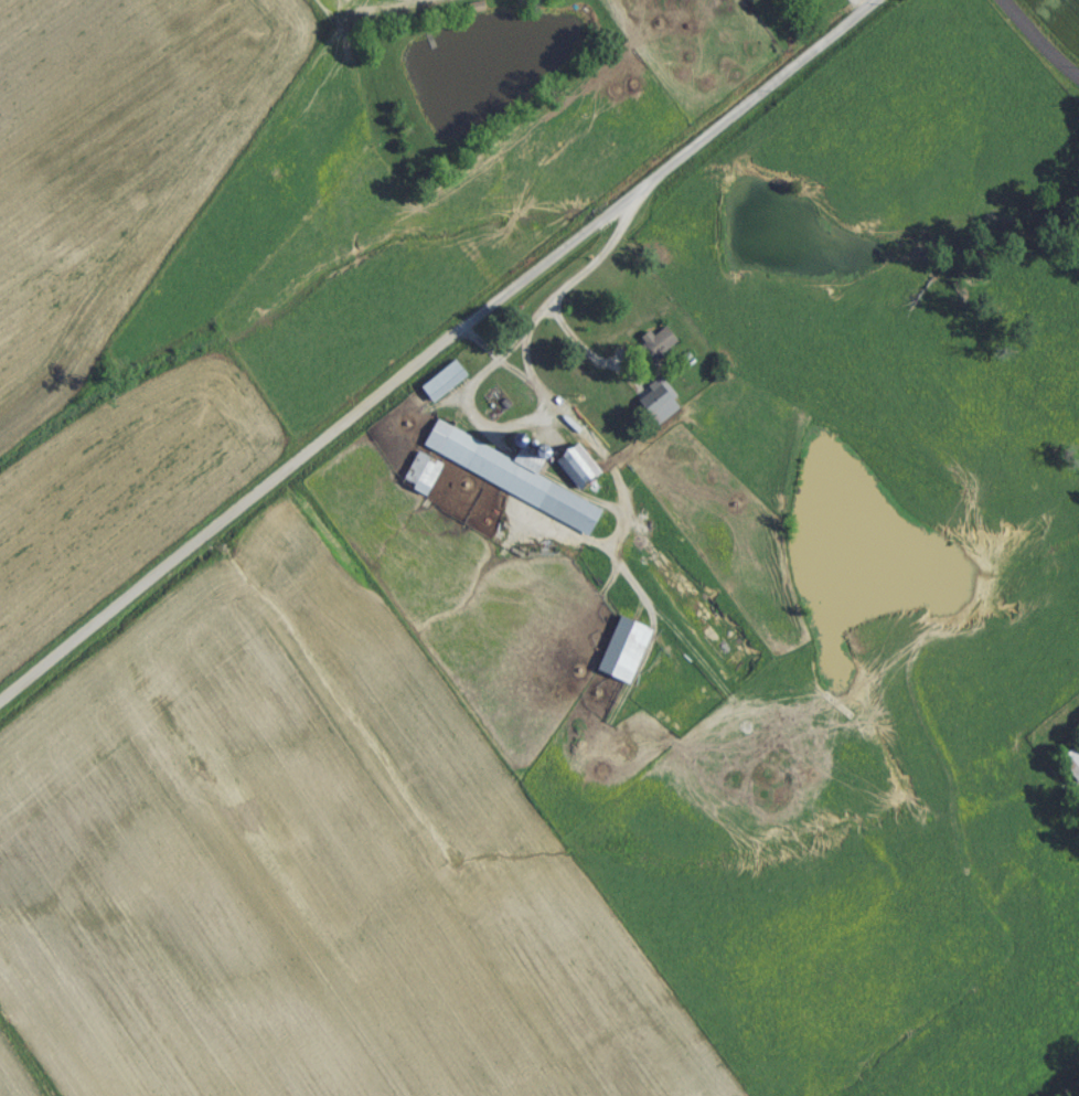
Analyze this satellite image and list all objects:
building: (814, 0)
road: (1034, 45)
road: (552, 300)
road: (439, 345)
building: (652, 353)
building: (440, 389)
building: (649, 405)
road: (510, 426)
building: (418, 481)
building: (505, 482)
building: (620, 657)
building: (1070, 770)

